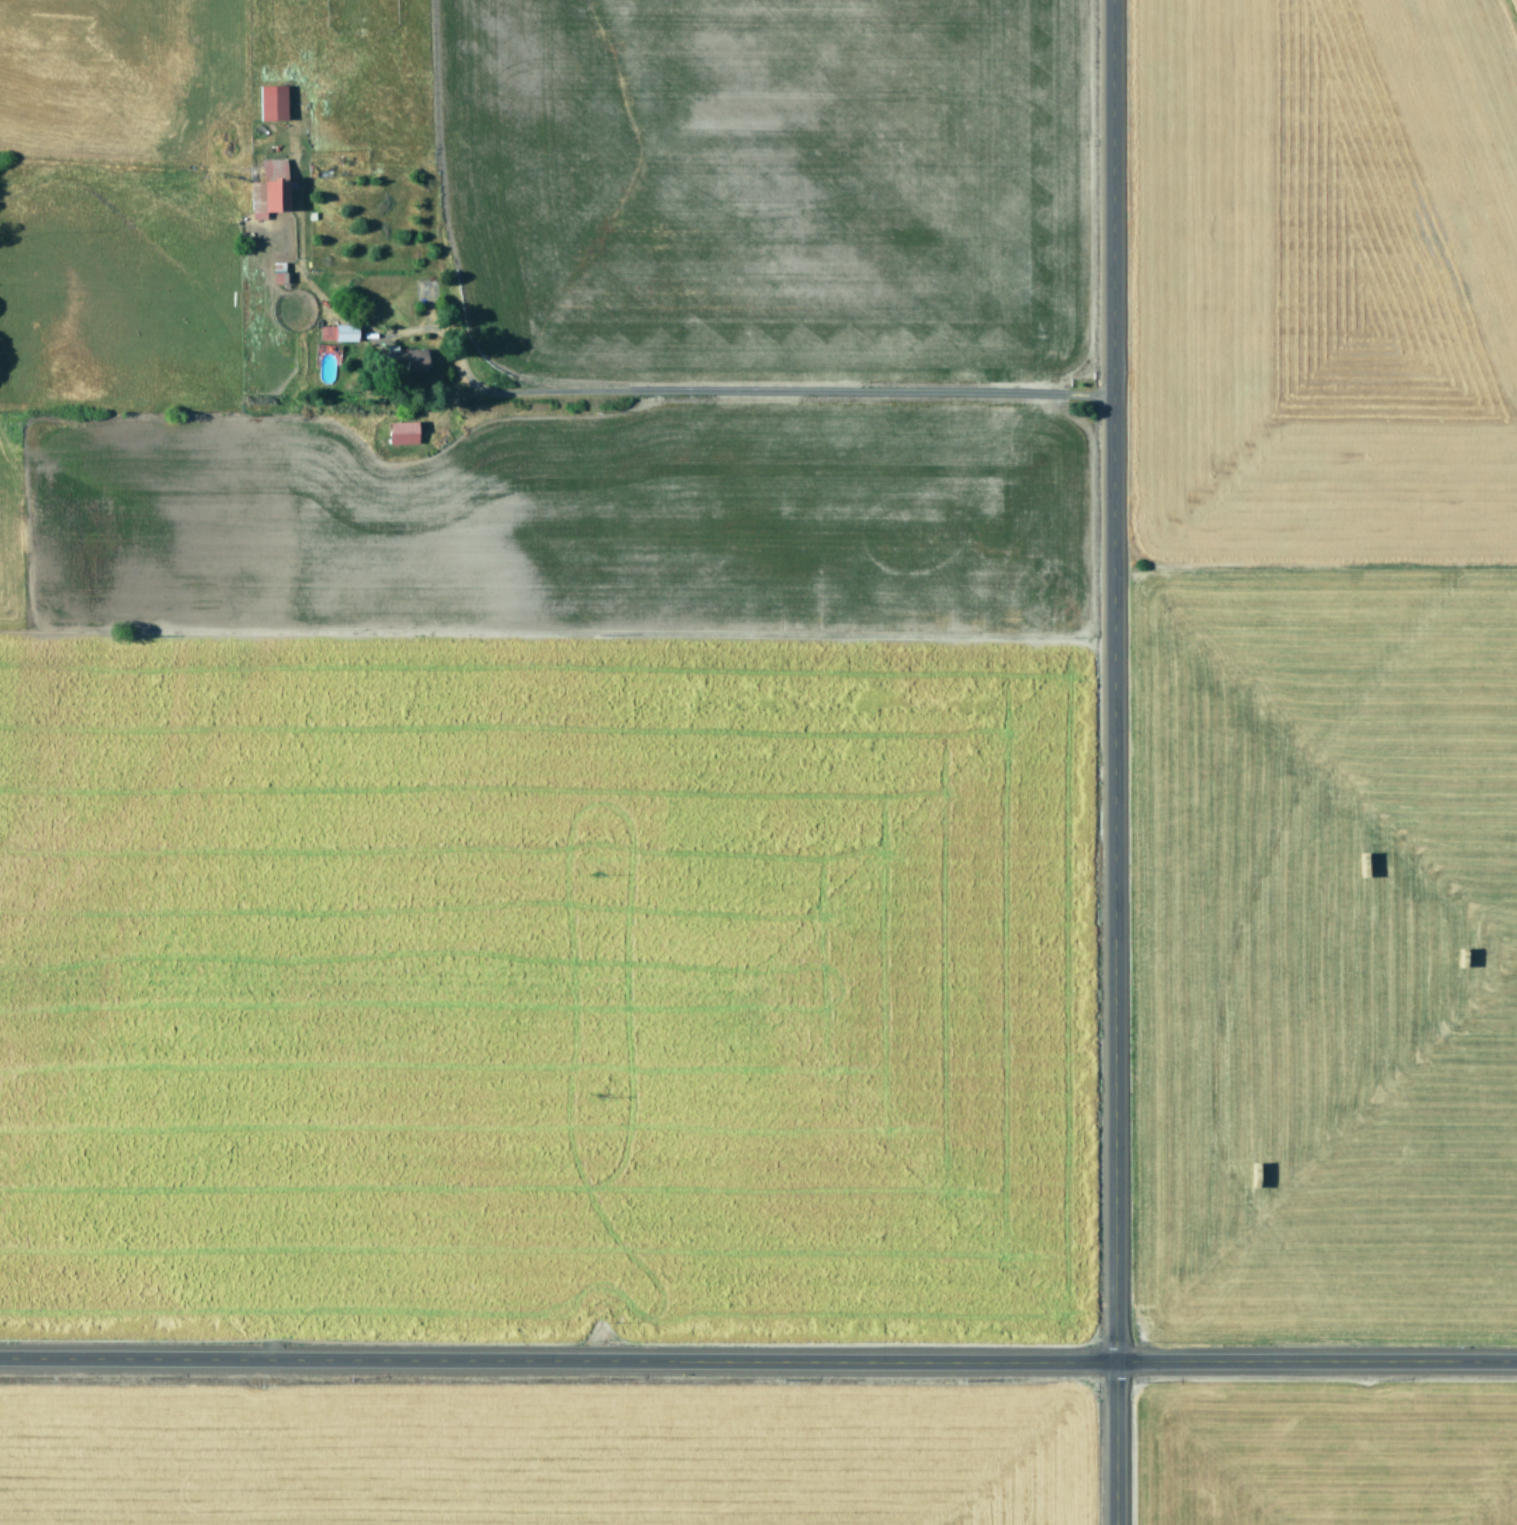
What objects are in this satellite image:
building: (269, 102)
building: (266, 188)
building: (343, 332)
building: (402, 359)
road: (757, 399)
building: (400, 432)
crop: (1330, 662)
crop: (542, 670)
road: (1109, 762)
road: (557, 1359)
road: (1315, 1360)
crop: (1328, 1450)
crop: (548, 1453)

